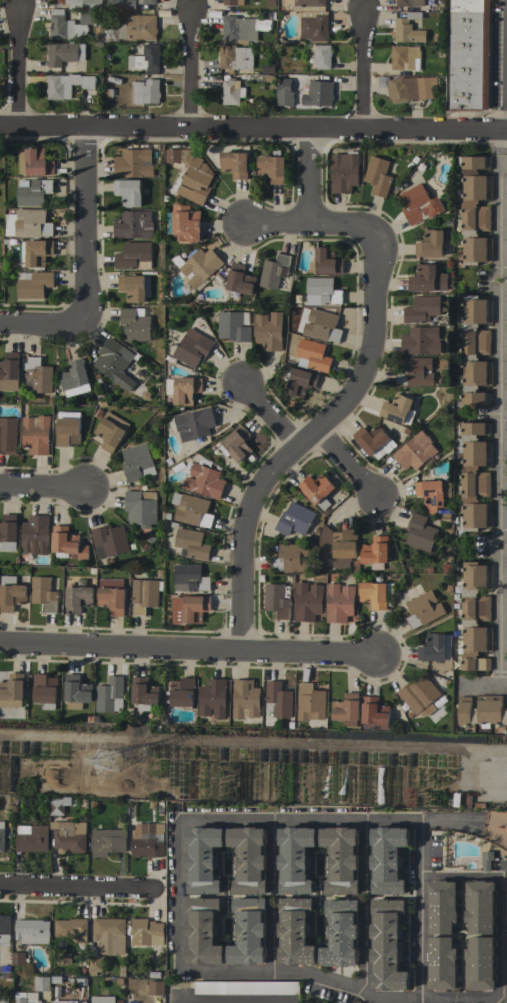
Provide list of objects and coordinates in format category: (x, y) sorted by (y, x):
building: (232, 2)
building: (79, 3)
building: (146, 3)
building: (409, 3)
building: (125, 4)
building: (311, 18)
building: (60, 25)
building: (134, 28)
building: (238, 29)
building: (407, 29)
building: (100, 30)
building: (60, 53)
building: (468, 55)
building: (321, 56)
building: (234, 58)
building: (404, 58)
building: (146, 59)
road: (364, 68)
building: (266, 69)
road: (187, 70)
road: (14, 73)
building: (86, 82)
building: (60, 85)
building: (425, 85)
building: (399, 88)
building: (231, 91)
building: (144, 92)
building: (283, 92)
building: (317, 93)
road: (7, 128)
road: (260, 130)
building: (173, 155)
building: (34, 162)
building: (133, 163)
building: (234, 164)
building: (271, 168)
building: (343, 172)
building: (377, 176)
building: (193, 179)
building: (506, 187)
building: (33, 192)
building: (128, 192)
building: (419, 204)
building: (475, 210)
building: (186, 223)
road: (274, 223)
building: (27, 224)
road: (82, 225)
building: (132, 225)
building: (431, 245)
building: (506, 249)
building: (35, 252)
building: (133, 256)
building: (325, 261)
building: (198, 267)
building: (273, 271)
building: (426, 279)
building: (238, 281)
building: (33, 284)
building: (133, 287)
building: (319, 292)
building: (421, 308)
building: (506, 311)
road: (41, 320)
building: (134, 324)
building: (321, 325)
building: (233, 326)
building: (267, 330)
building: (420, 341)
building: (191, 348)
building: (475, 349)
building: (311, 355)
building: (114, 363)
building: (9, 371)
building: (414, 371)
building: (506, 373)
building: (37, 374)
building: (74, 378)
road: (359, 379)
building: (298, 381)
building: (182, 389)
building: (395, 408)
road: (499, 410)
road: (268, 412)
building: (191, 425)
building: (67, 431)
building: (109, 431)
building: (35, 434)
building: (7, 435)
building: (373, 440)
building: (235, 444)
building: (414, 451)
building: (136, 462)
road: (347, 463)
building: (474, 476)
building: (203, 481)
road: (40, 486)
building: (316, 489)
building: (432, 493)
building: (139, 508)
building: (190, 509)
building: (294, 519)
building: (8, 532)
building: (419, 533)
building: (34, 534)
building: (108, 540)
building: (66, 543)
building: (191, 544)
building: (337, 546)
building: (374, 552)
building: (291, 558)
building: (506, 577)
building: (189, 578)
building: (10, 593)
building: (43, 593)
building: (374, 594)
building: (143, 595)
building: (111, 597)
building: (77, 598)
building: (276, 600)
building: (307, 601)
building: (339, 602)
building: (188, 609)
building: (422, 609)
building: (506, 609)
building: (475, 616)
building: (506, 643)
road: (189, 644)
building: (434, 648)
building: (506, 660)
road: (482, 687)
building: (11, 690)
building: (44, 690)
building: (76, 691)
building: (182, 692)
building: (143, 693)
building: (109, 695)
building: (418, 695)
building: (211, 698)
building: (245, 699)
building: (277, 700)
building: (310, 705)
building: (346, 710)
building: (481, 710)
building: (373, 713)
road: (264, 743)
power tower: (109, 763)
building: (58, 805)
building: (151, 805)
road: (188, 820)
building: (3, 835)
building: (70, 836)
building: (32, 839)
building: (148, 840)
building: (107, 842)
road: (272, 854)
road: (362, 856)
building: (201, 859)
building: (247, 859)
building: (339, 859)
building: (386, 859)
building: (294, 860)
building: (506, 870)
building: (506, 876)
road: (75, 890)
building: (442, 907)
building: (480, 907)
building: (71, 929)
building: (5, 930)
building: (32, 931)
building: (293, 931)
building: (146, 932)
building: (201, 932)
building: (247, 934)
building: (340, 934)
building: (110, 935)
road: (420, 936)
road: (273, 937)
building: (506, 942)
building: (506, 943)
building: (386, 945)
road: (362, 946)
building: (18, 958)
building: (506, 958)
building: (64, 959)
building: (442, 963)
building: (480, 963)
building: (95, 965)
building: (506, 974)
building: (55, 980)
building: (41, 984)
building: (155, 988)
building: (246, 988)
road: (503, 993)
building: (26, 997)
building: (102, 999)
building: (4, 1000)
road: (236, 1000)
building: (63, 1001)

